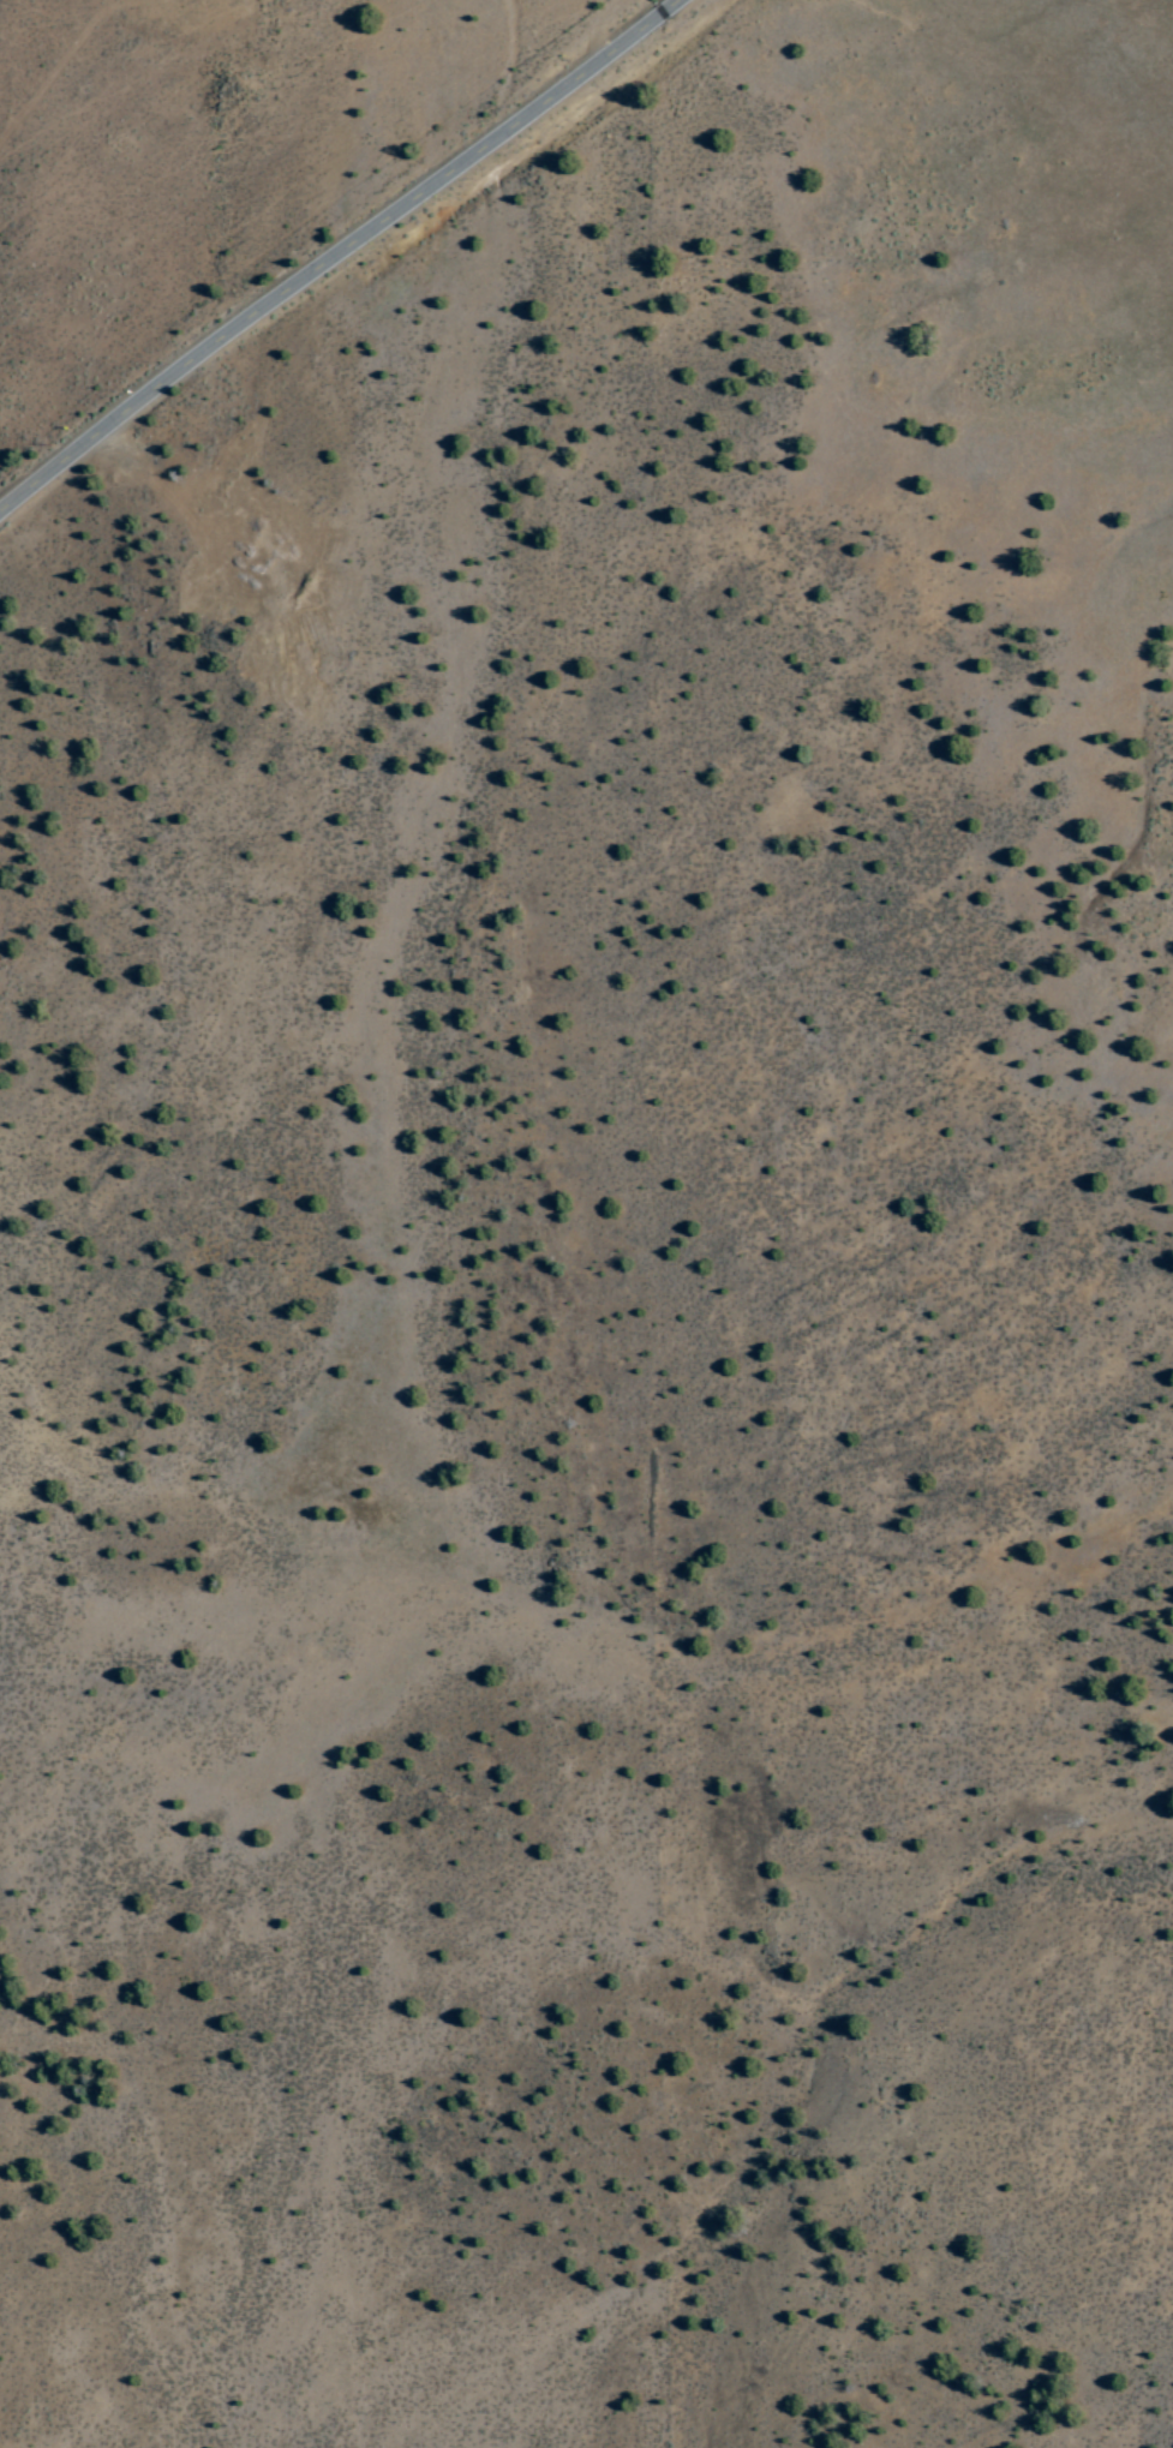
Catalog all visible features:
road: (343, 261)

